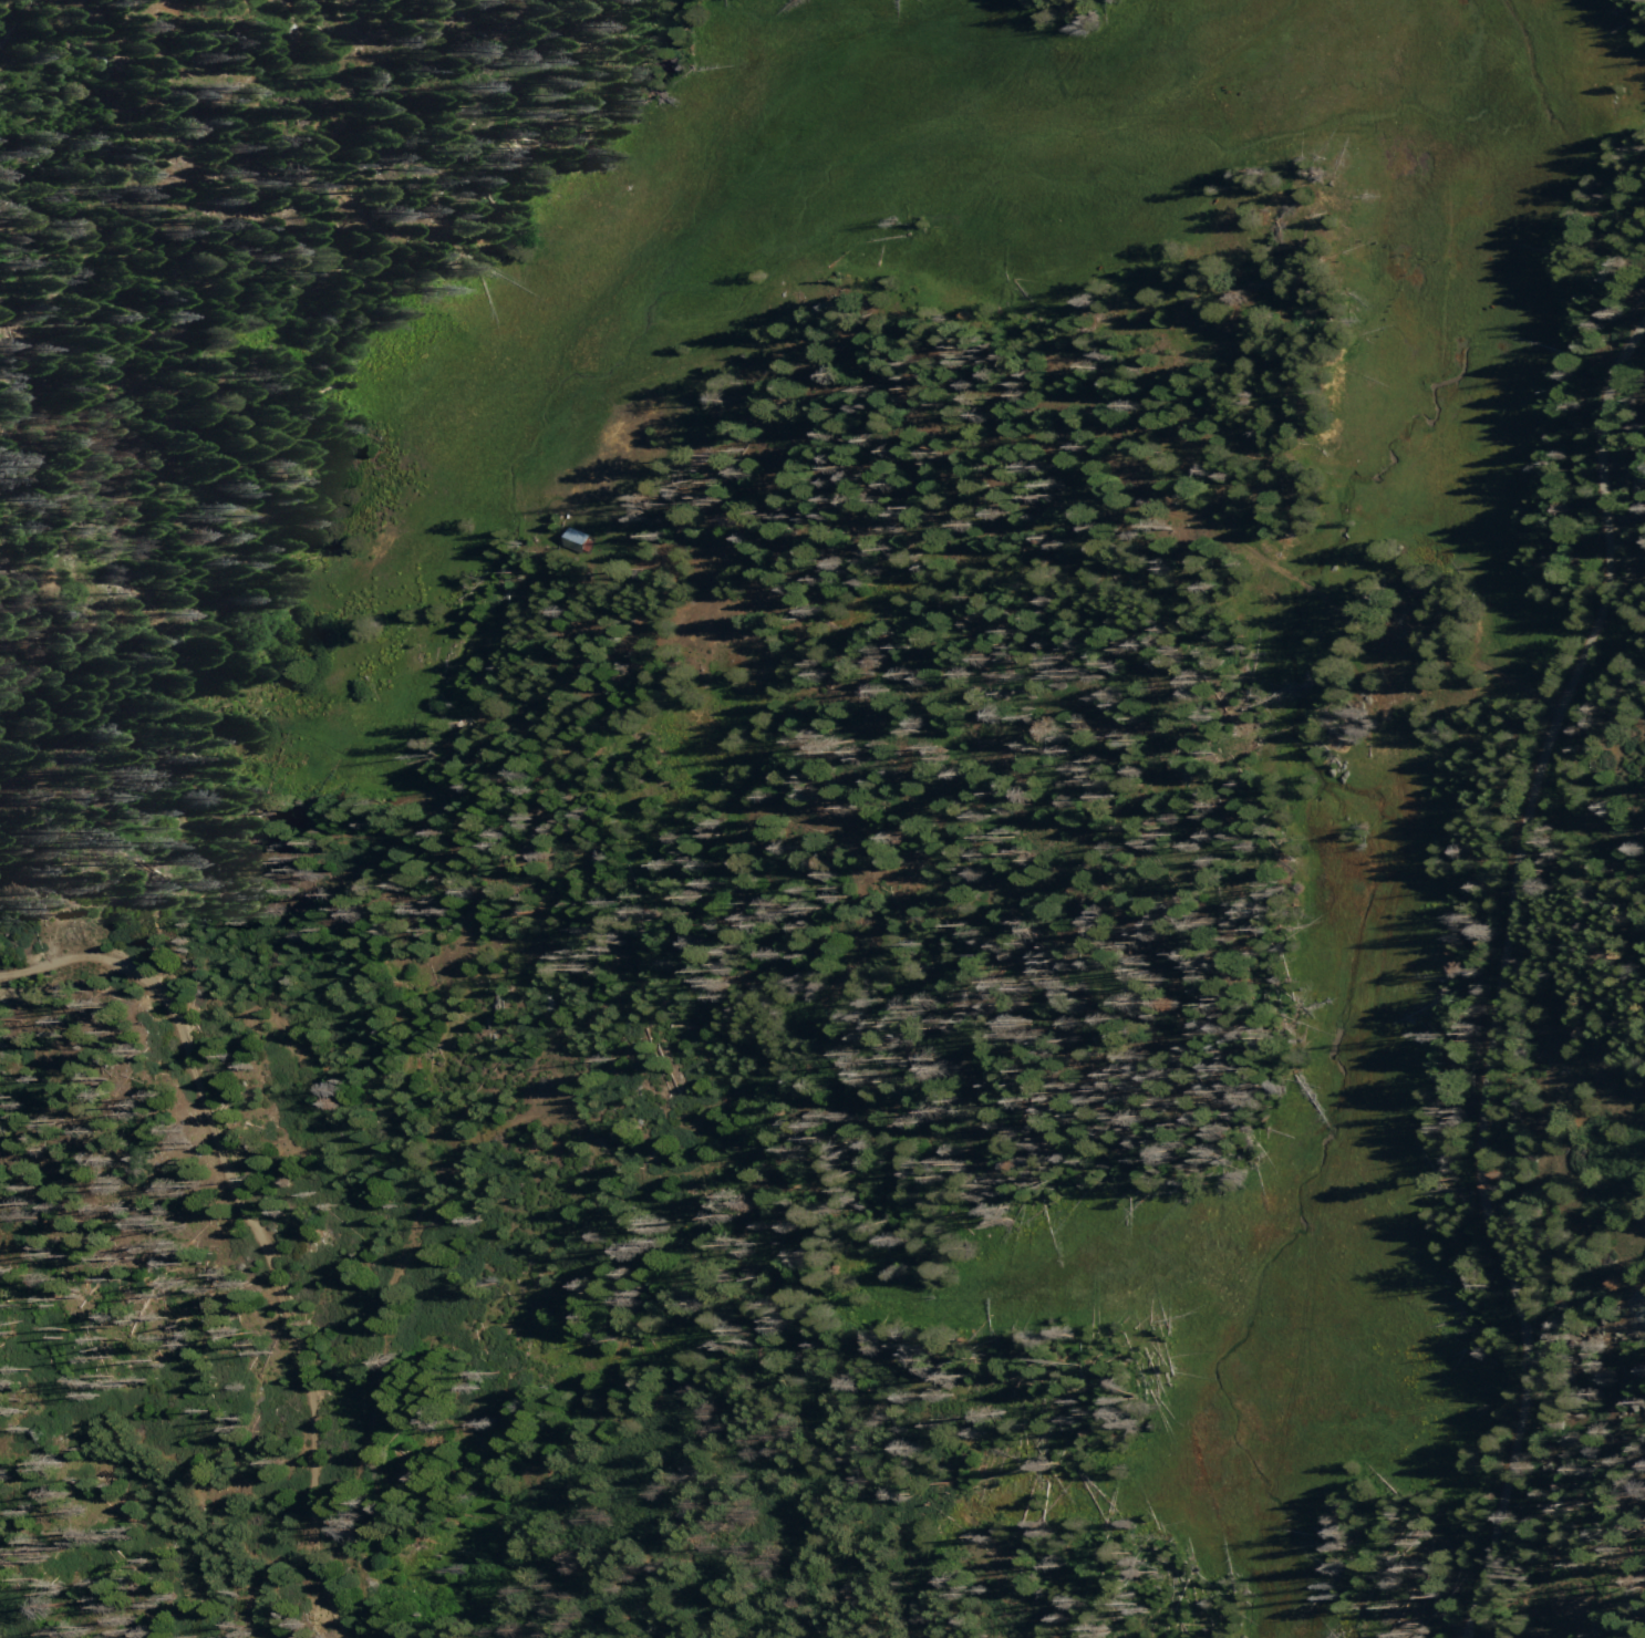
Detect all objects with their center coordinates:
building: (569, 540)
road: (1509, 974)
road: (248, 1232)

